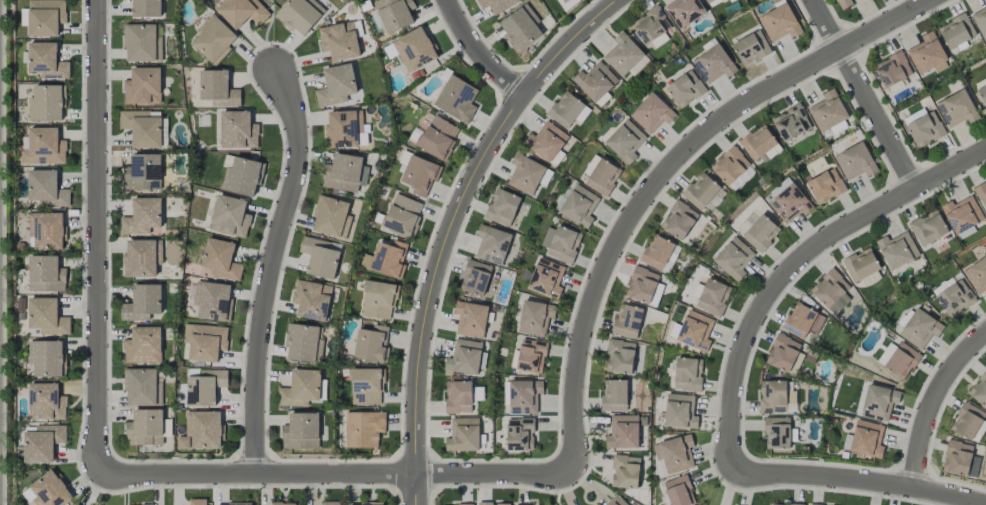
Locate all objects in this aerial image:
building: (565, 1)
building: (709, 1)
building: (985, 1)
building: (844, 3)
building: (497, 5)
building: (146, 8)
building: (242, 12)
building: (684, 12)
building: (300, 14)
building: (394, 14)
building: (45, 17)
building: (980, 21)
building: (779, 23)
building: (652, 27)
building: (522, 28)
building: (956, 31)
building: (213, 39)
building: (339, 41)
building: (142, 43)
building: (751, 47)
building: (414, 50)
road: (479, 51)
building: (926, 53)
building: (623, 54)
building: (46, 61)
building: (714, 64)
building: (892, 69)
building: (595, 81)
building: (336, 85)
building: (143, 86)
building: (218, 89)
building: (685, 89)
road: (867, 94)
building: (982, 94)
building: (456, 99)
building: (47, 103)
building: (957, 109)
building: (567, 110)
building: (827, 111)
building: (651, 113)
building: (791, 123)
building: (924, 127)
building: (142, 128)
building: (344, 129)
building: (238, 130)
building: (438, 137)
building: (625, 141)
building: (758, 142)
building: (547, 143)
building: (43, 147)
building: (404, 161)
building: (855, 162)
building: (730, 166)
road: (663, 172)
building: (143, 173)
building: (344, 173)
building: (525, 174)
building: (420, 175)
building: (601, 175)
building: (242, 177)
building: (825, 186)
building: (46, 189)
building: (700, 191)
building: (981, 194)
building: (790, 204)
building: (579, 206)
building: (502, 207)
building: (402, 215)
building: (962, 215)
building: (142, 216)
building: (230, 216)
building: (331, 217)
building: (678, 220)
road: (452, 224)
building: (928, 228)
building: (46, 230)
building: (760, 233)
road: (97, 236)
building: (560, 243)
building: (492, 244)
building: (897, 250)
building: (656, 252)
building: (320, 257)
building: (142, 258)
building: (733, 258)
building: (387, 259)
building: (220, 260)
road: (795, 265)
building: (861, 265)
road: (272, 268)
building: (46, 274)
building: (977, 275)
building: (475, 278)
building: (546, 278)
building: (945, 285)
building: (643, 286)
building: (831, 291)
building: (713, 297)
building: (955, 299)
building: (311, 300)
building: (378, 300)
building: (213, 301)
building: (142, 303)
building: (46, 317)
building: (535, 317)
building: (470, 319)
building: (627, 321)
building: (802, 321)
building: (920, 328)
building: (695, 331)
building: (205, 342)
building: (304, 343)
building: (372, 344)
building: (143, 345)
building: (783, 353)
building: (531, 356)
building: (466, 357)
building: (619, 357)
building: (46, 358)
building: (898, 359)
building: (687, 374)
building: (204, 386)
building: (366, 386)
building: (142, 387)
building: (300, 389)
building: (979, 390)
building: (614, 395)
building: (524, 396)
building: (458, 397)
building: (772, 397)
building: (46, 402)
building: (879, 402)
road: (934, 403)
building: (680, 411)
building: (967, 421)
building: (145, 428)
building: (363, 429)
building: (201, 431)
building: (301, 431)
building: (623, 432)
building: (777, 432)
building: (519, 434)
building: (463, 435)
building: (867, 439)
building: (43, 443)
building: (675, 453)
building: (960, 459)
building: (625, 472)
road: (337, 473)
road: (860, 480)
building: (50, 491)
building: (679, 491)
building: (616, 501)
building: (197, 502)
building: (282, 503)
building: (331, 503)
building: (238, 504)
building: (364, 504)
building: (454, 504)
building: (494, 504)
building: (598, 504)
building: (782, 504)

